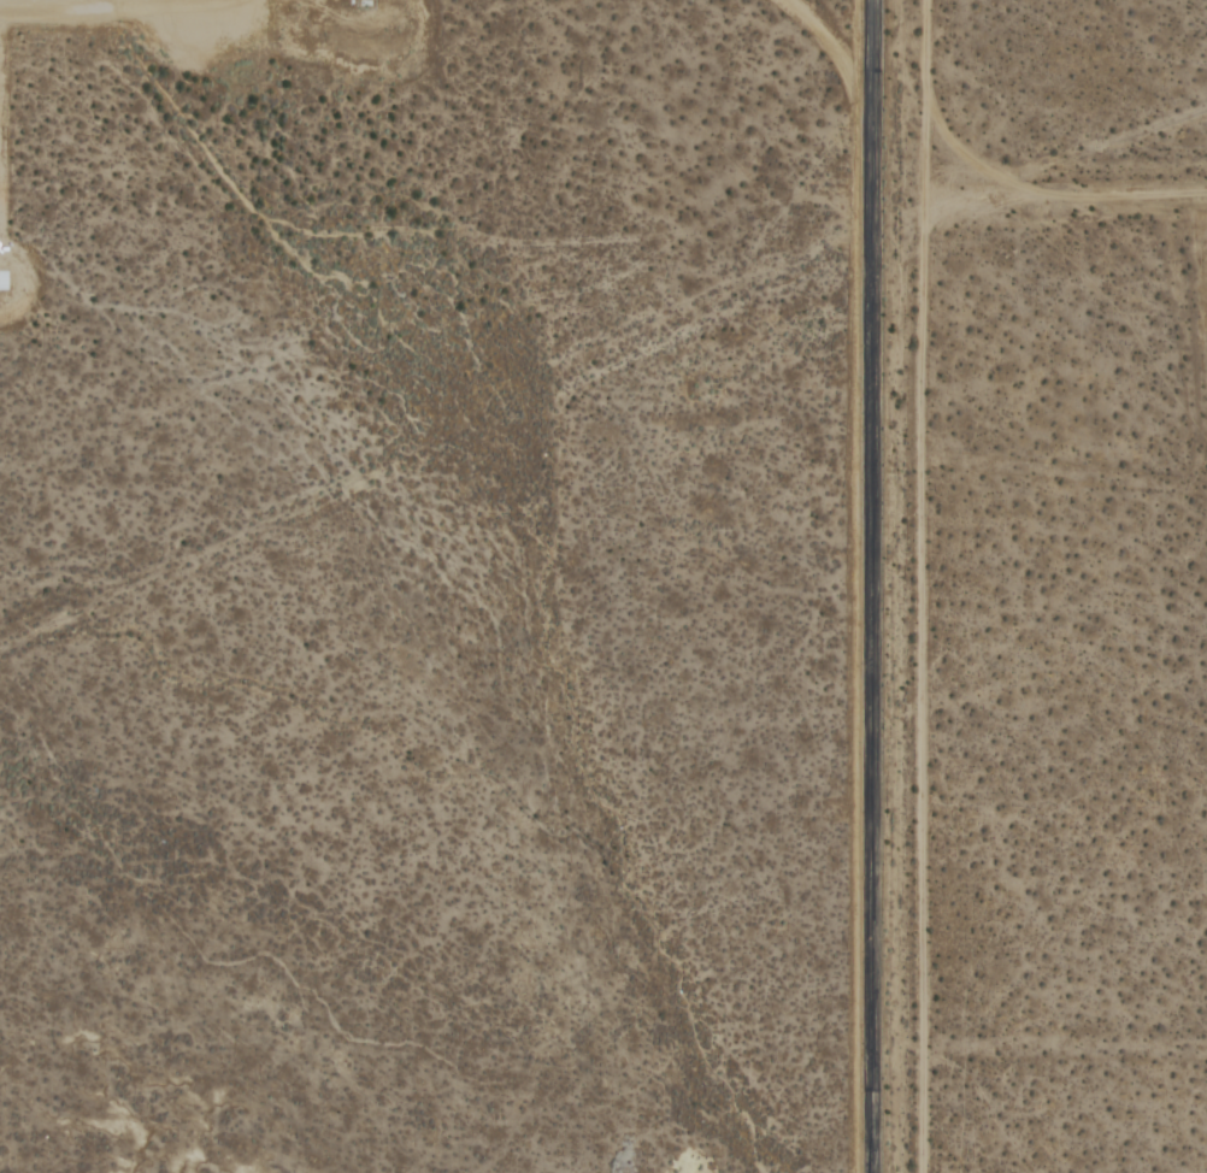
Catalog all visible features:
road: (840, 60)
road: (1066, 198)
airport: (447, 585)
road: (923, 585)

